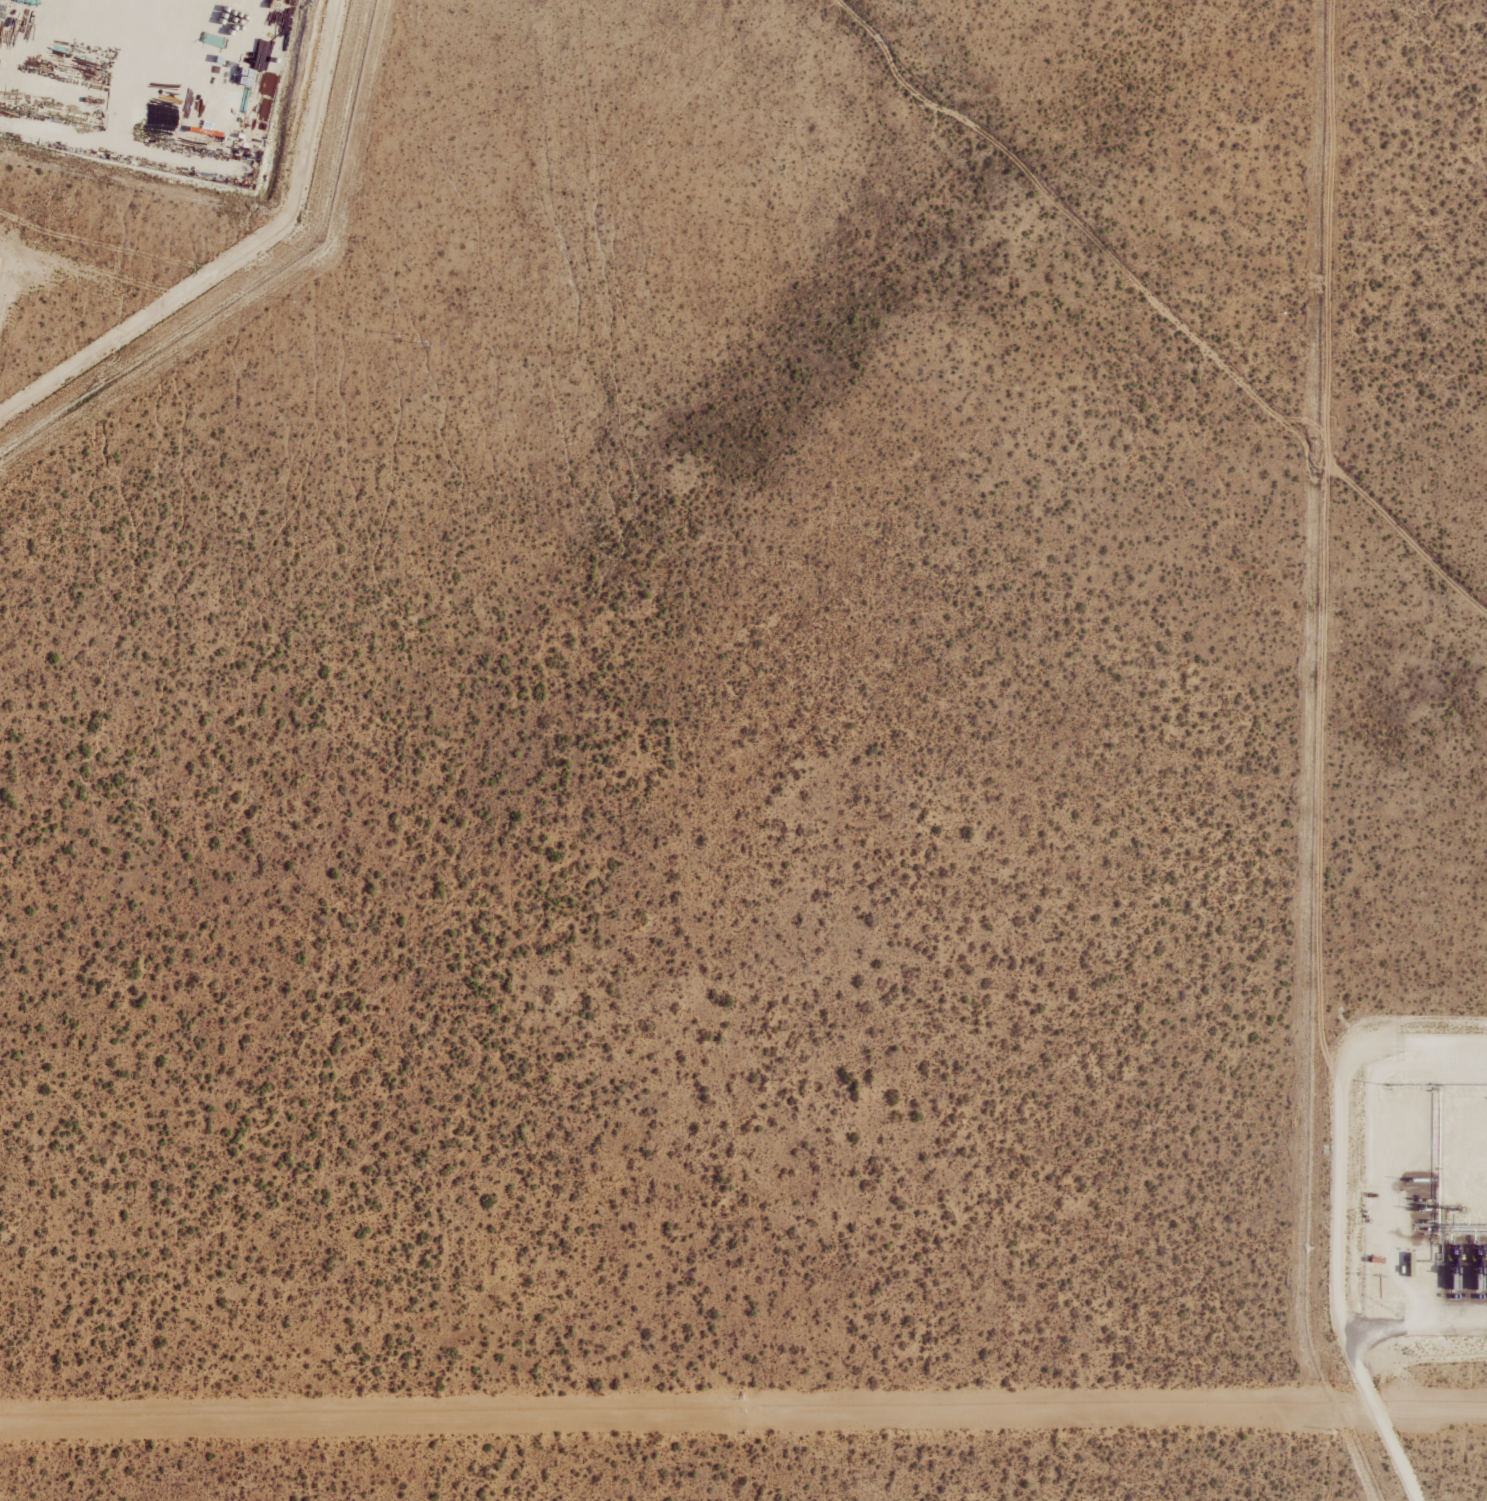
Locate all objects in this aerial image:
road: (1416, 1059)
road: (1339, 1269)

